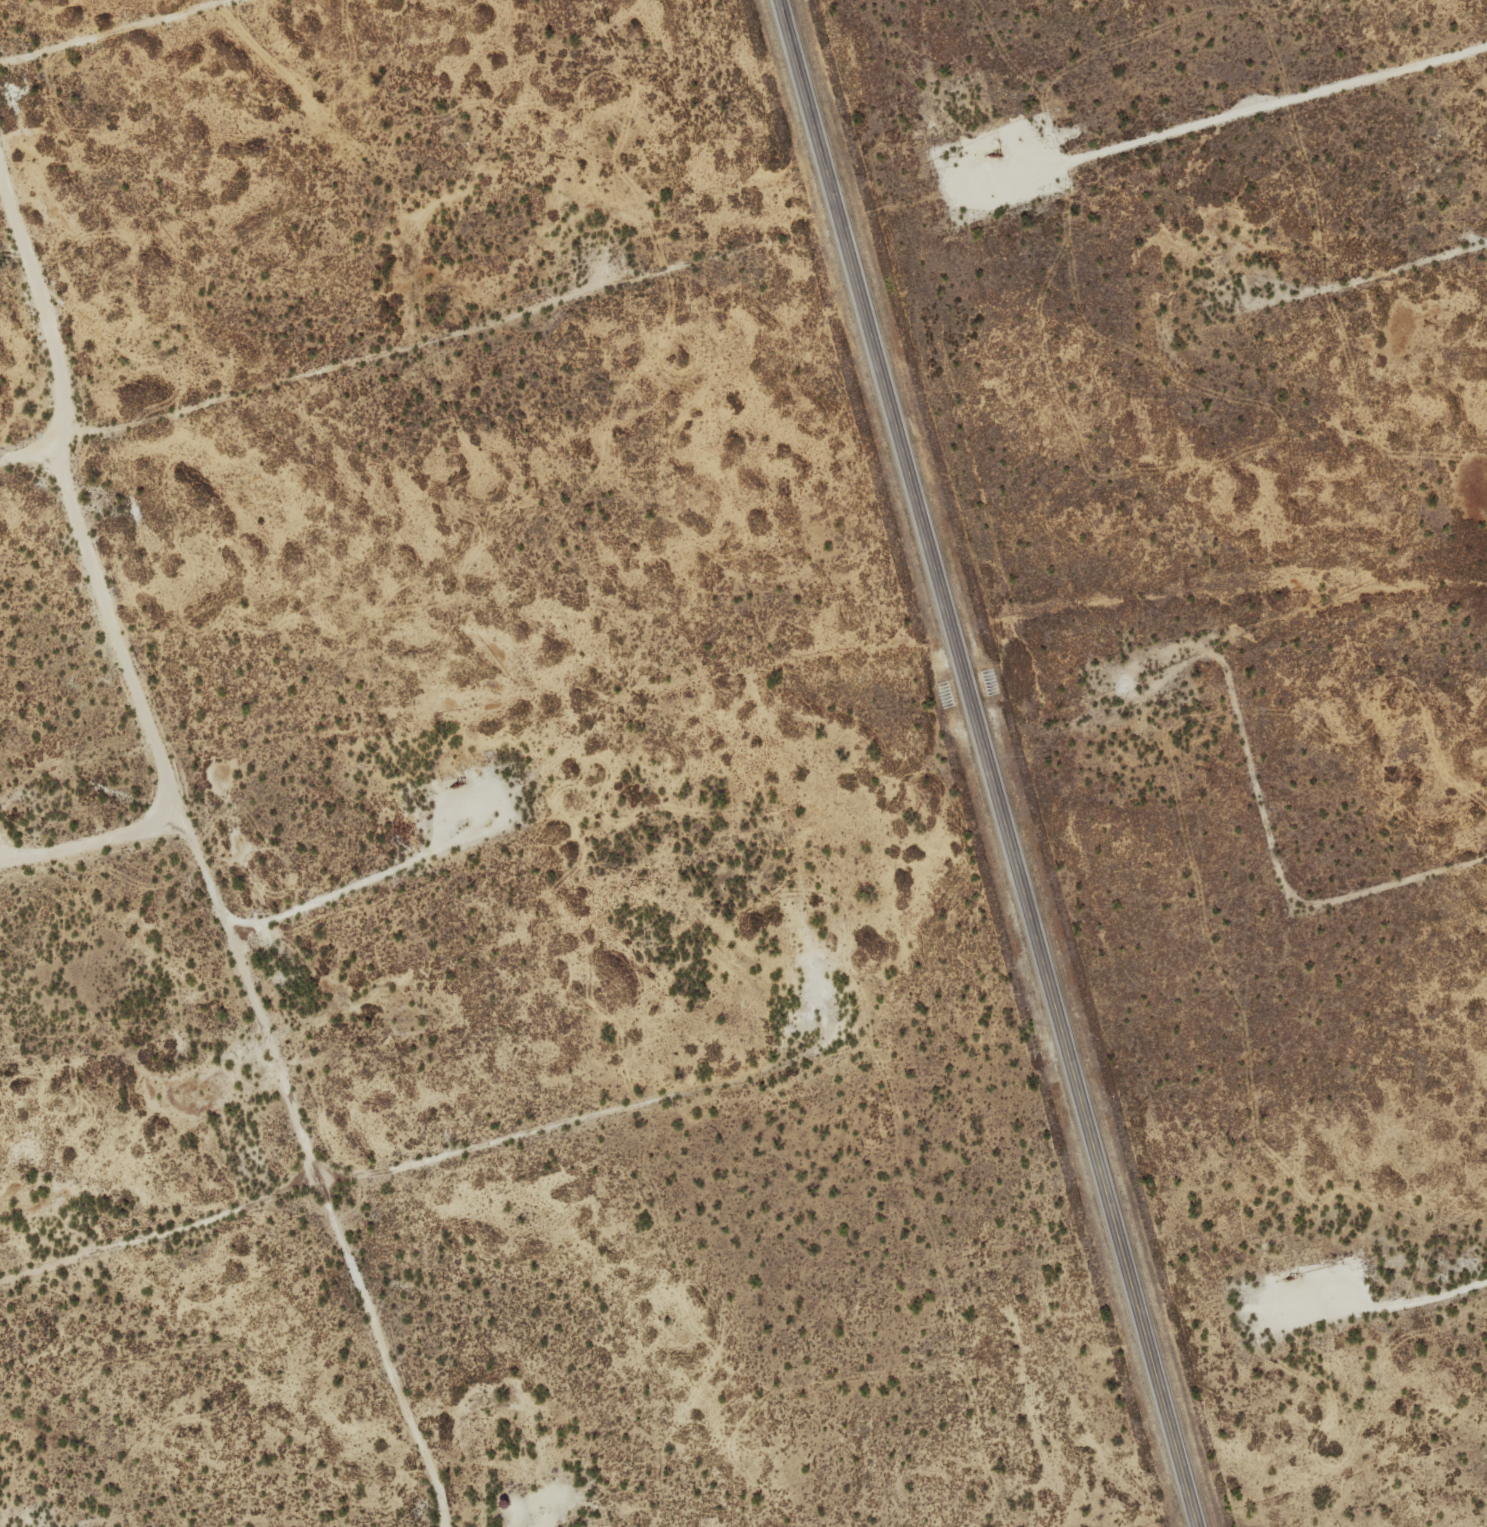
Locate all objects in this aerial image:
road: (119, 33)
road: (1194, 126)
road: (1377, 274)
road: (387, 350)
road: (989, 763)
road: (1272, 836)
road: (198, 848)
road: (586, 1118)
road: (1365, 1309)

